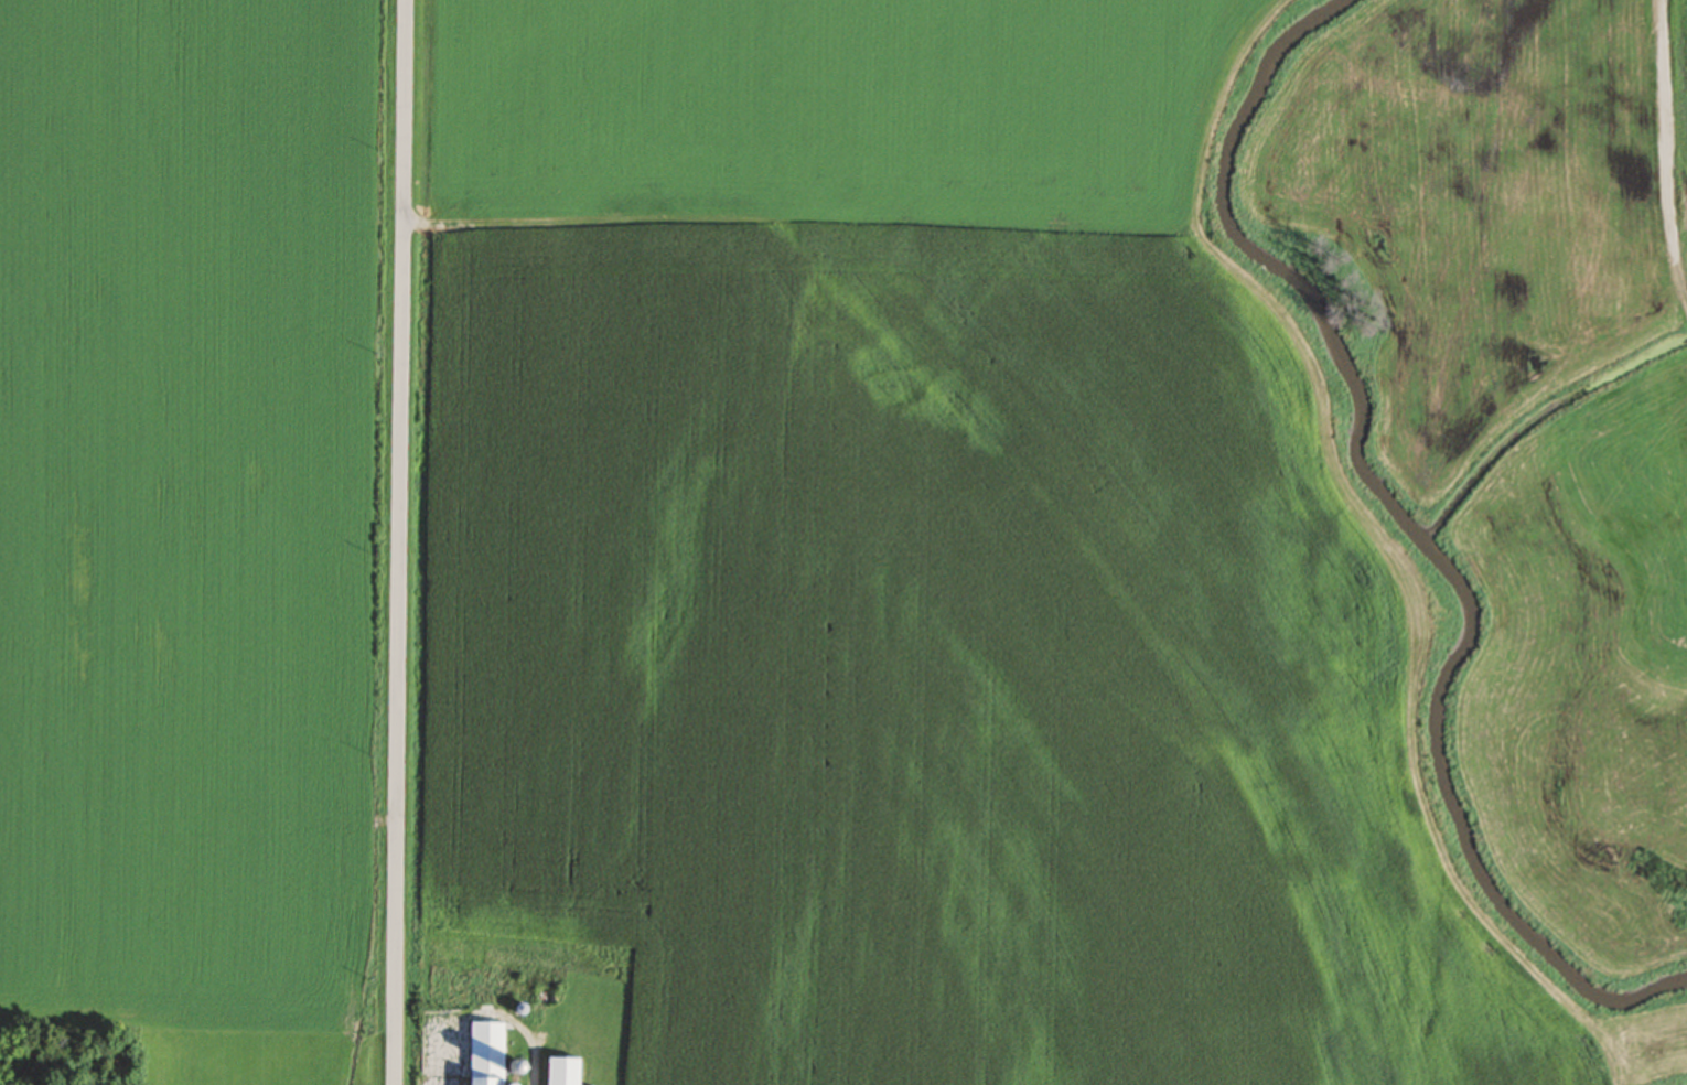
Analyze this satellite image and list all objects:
road: (401, 541)
building: (487, 1054)
building: (566, 1072)

